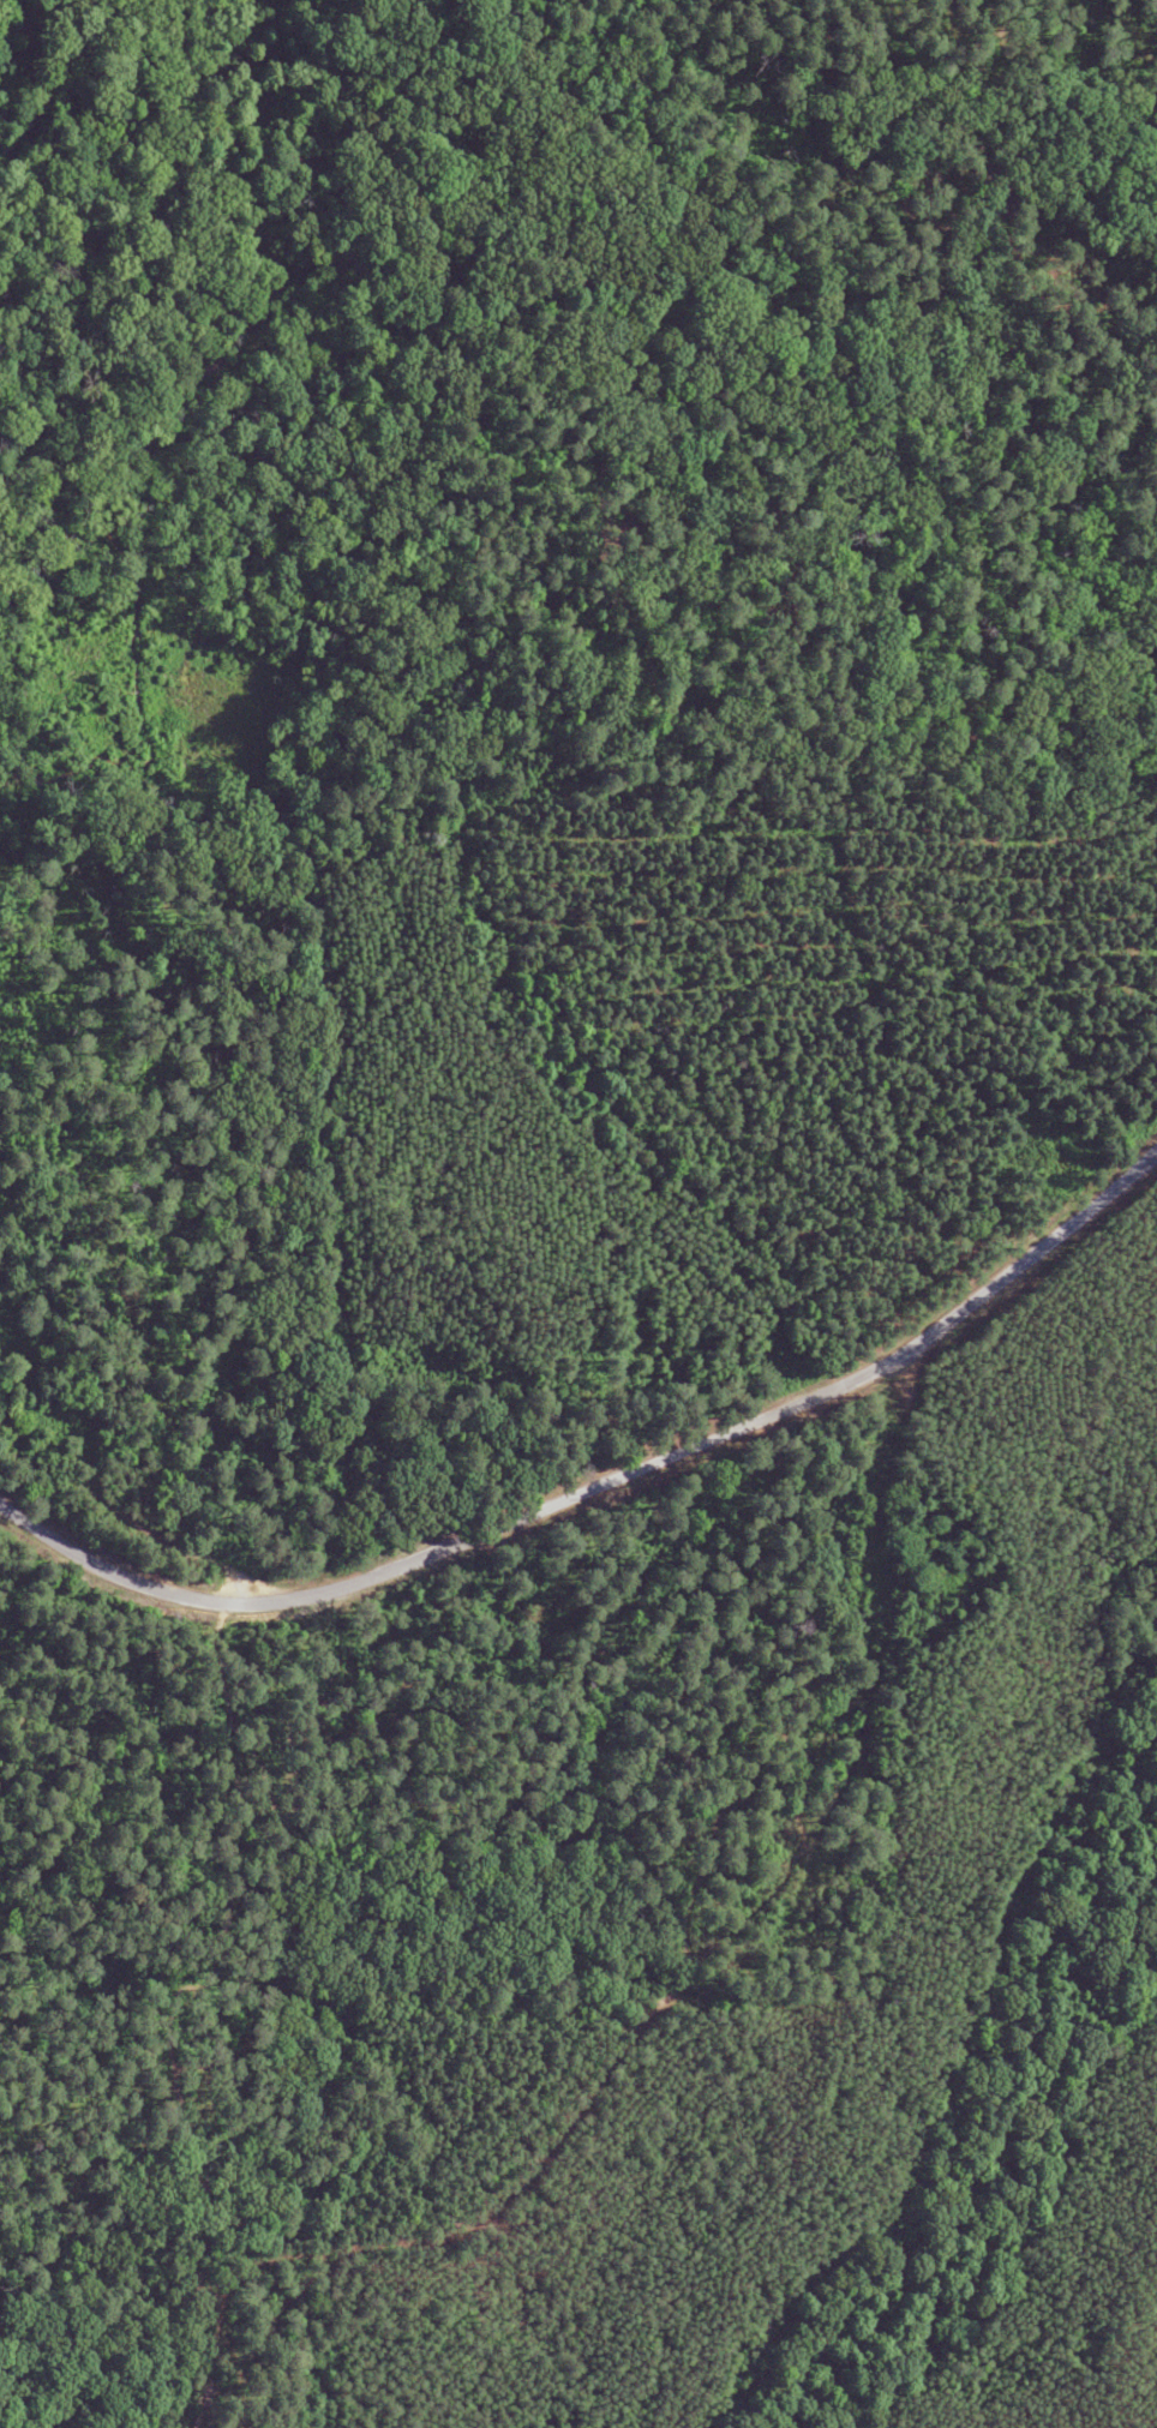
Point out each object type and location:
road: (605, 1481)

